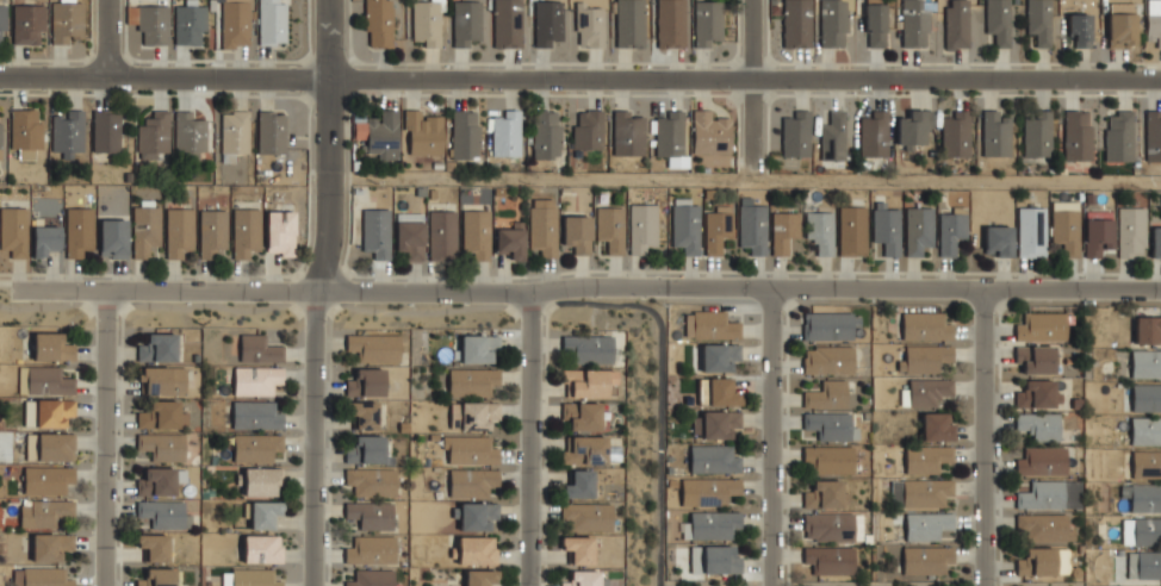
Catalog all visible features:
building: (2, 19)
building: (708, 20)
building: (999, 20)
building: (1039, 20)
building: (1154, 20)
building: (68, 21)
building: (150, 21)
building: (273, 21)
building: (548, 21)
building: (27, 23)
building: (190, 23)
building: (237, 23)
building: (379, 23)
building: (427, 23)
building: (467, 23)
building: (508, 23)
building: (590, 23)
building: (631, 23)
building: (671, 23)
building: (796, 23)
building: (833, 23)
building: (914, 23)
building: (875, 24)
building: (957, 24)
building: (1122, 24)
building: (1079, 29)
road: (751, 39)
road: (106, 40)
road: (579, 79)
building: (588, 127)
building: (914, 127)
building: (26, 129)
road: (752, 129)
building: (106, 130)
building: (234, 131)
building: (272, 131)
building: (424, 131)
building: (627, 131)
building: (710, 131)
building: (997, 131)
building: (68, 132)
building: (380, 132)
building: (507, 132)
building: (669, 132)
building: (796, 132)
building: (956, 132)
building: (1037, 132)
building: (466, 133)
building: (547, 133)
building: (873, 133)
building: (1078, 133)
building: (1118, 133)
building: (154, 135)
building: (190, 135)
building: (833, 136)
building: (1153, 136)
building: (0, 142)
road: (744, 177)
building: (687, 223)
building: (545, 224)
building: (610, 226)
building: (718, 226)
building: (753, 226)
building: (887, 226)
building: (642, 227)
building: (918, 227)
building: (147, 229)
building: (1066, 229)
building: (13, 230)
building: (784, 230)
building: (820, 230)
building: (852, 230)
building: (951, 230)
building: (1031, 230)
building: (80, 231)
building: (377, 231)
building: (478, 231)
building: (1131, 231)
building: (180, 232)
building: (213, 232)
building: (247, 232)
building: (280, 232)
building: (578, 232)
building: (1097, 233)
building: (443, 235)
building: (114, 237)
building: (45, 238)
building: (410, 238)
building: (510, 238)
building: (998, 241)
building: (1156, 241)
road: (588, 285)
road: (315, 292)
road: (466, 306)
building: (709, 324)
building: (828, 325)
building: (925, 325)
building: (1042, 325)
building: (1148, 329)
building: (51, 347)
building: (375, 347)
building: (480, 347)
building: (589, 347)
building: (157, 348)
building: (259, 348)
building: (923, 356)
building: (720, 357)
building: (1033, 359)
building: (827, 360)
building: (1146, 363)
building: (257, 378)
building: (45, 380)
building: (162, 380)
building: (474, 381)
building: (589, 381)
building: (367, 382)
building: (927, 391)
building: (716, 392)
building: (1036, 393)
building: (827, 394)
building: (1147, 398)
building: (50, 412)
building: (163, 414)
building: (256, 414)
building: (365, 414)
building: (474, 414)
building: (583, 414)
building: (715, 423)
building: (830, 425)
building: (937, 425)
building: (1038, 426)
building: (1146, 430)
road: (771, 436)
road: (985, 437)
road: (106, 438)
road: (529, 440)
building: (163, 444)
building: (51, 445)
building: (254, 447)
building: (367, 449)
building: (470, 449)
building: (585, 449)
building: (926, 456)
building: (714, 457)
building: (830, 457)
building: (1041, 461)
building: (1147, 465)
building: (46, 478)
building: (156, 480)
building: (262, 481)
building: (372, 481)
building: (473, 481)
building: (578, 484)
building: (708, 490)
building: (926, 491)
building: (827, 494)
building: (1042, 497)
building: (1143, 497)
building: (45, 511)
building: (163, 512)
building: (265, 515)
building: (371, 515)
building: (479, 515)
building: (588, 515)
building: (710, 524)
building: (926, 524)
building: (830, 525)
building: (857, 526)
building: (1044, 526)
building: (1142, 530)
building: (50, 546)
building: (154, 546)
building: (579, 547)
building: (478, 549)
building: (262, 550)
building: (371, 550)
building: (830, 557)
building: (926, 559)
building: (714, 560)
building: (1036, 562)
building: (1144, 563)
building: (42, 576)
building: (480, 576)
building: (586, 576)
building: (157, 578)
building: (253, 578)
building: (371, 578)

